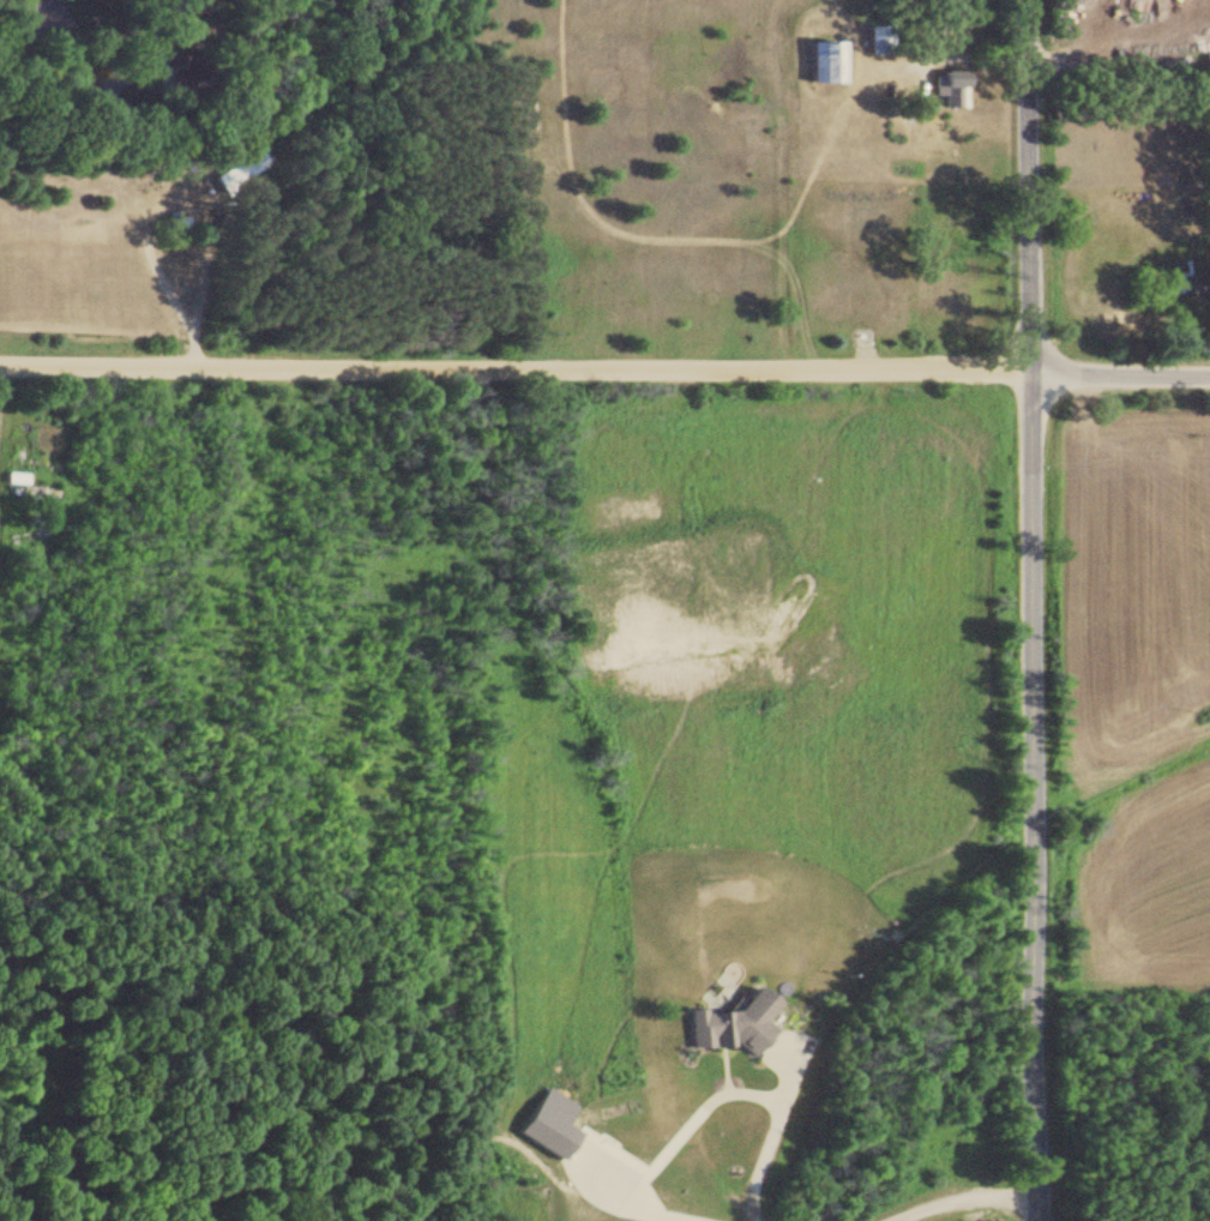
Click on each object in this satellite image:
building: (880, 41)
building: (827, 62)
building: (1208, 66)
river: (119, 78)
building: (956, 82)
building: (243, 166)
road: (513, 368)
road: (1119, 374)
building: (26, 487)
road: (1028, 609)
building: (734, 1025)

